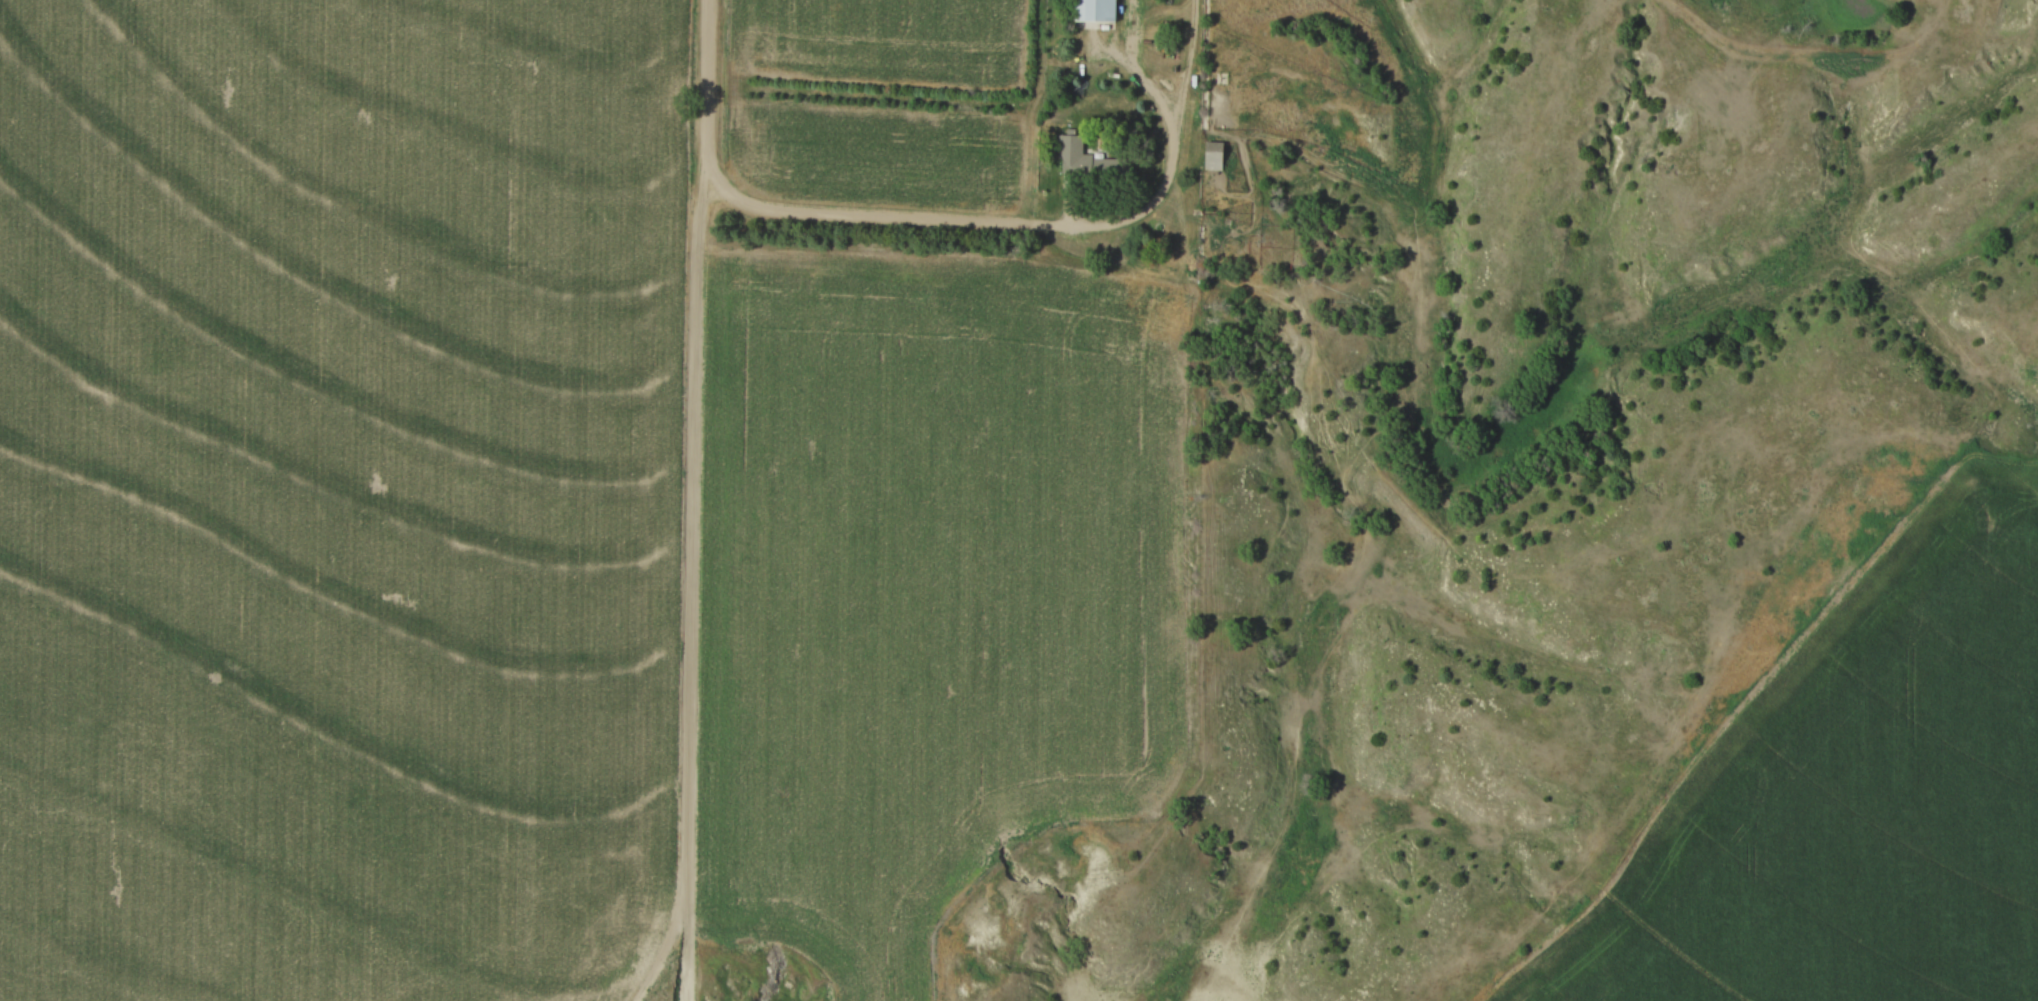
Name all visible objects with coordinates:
building: (1096, 6)
crop: (878, 38)
crop: (875, 151)
building: (1211, 156)
building: (1087, 162)
road: (903, 217)
crop: (340, 497)
road: (697, 500)
crop: (930, 587)

